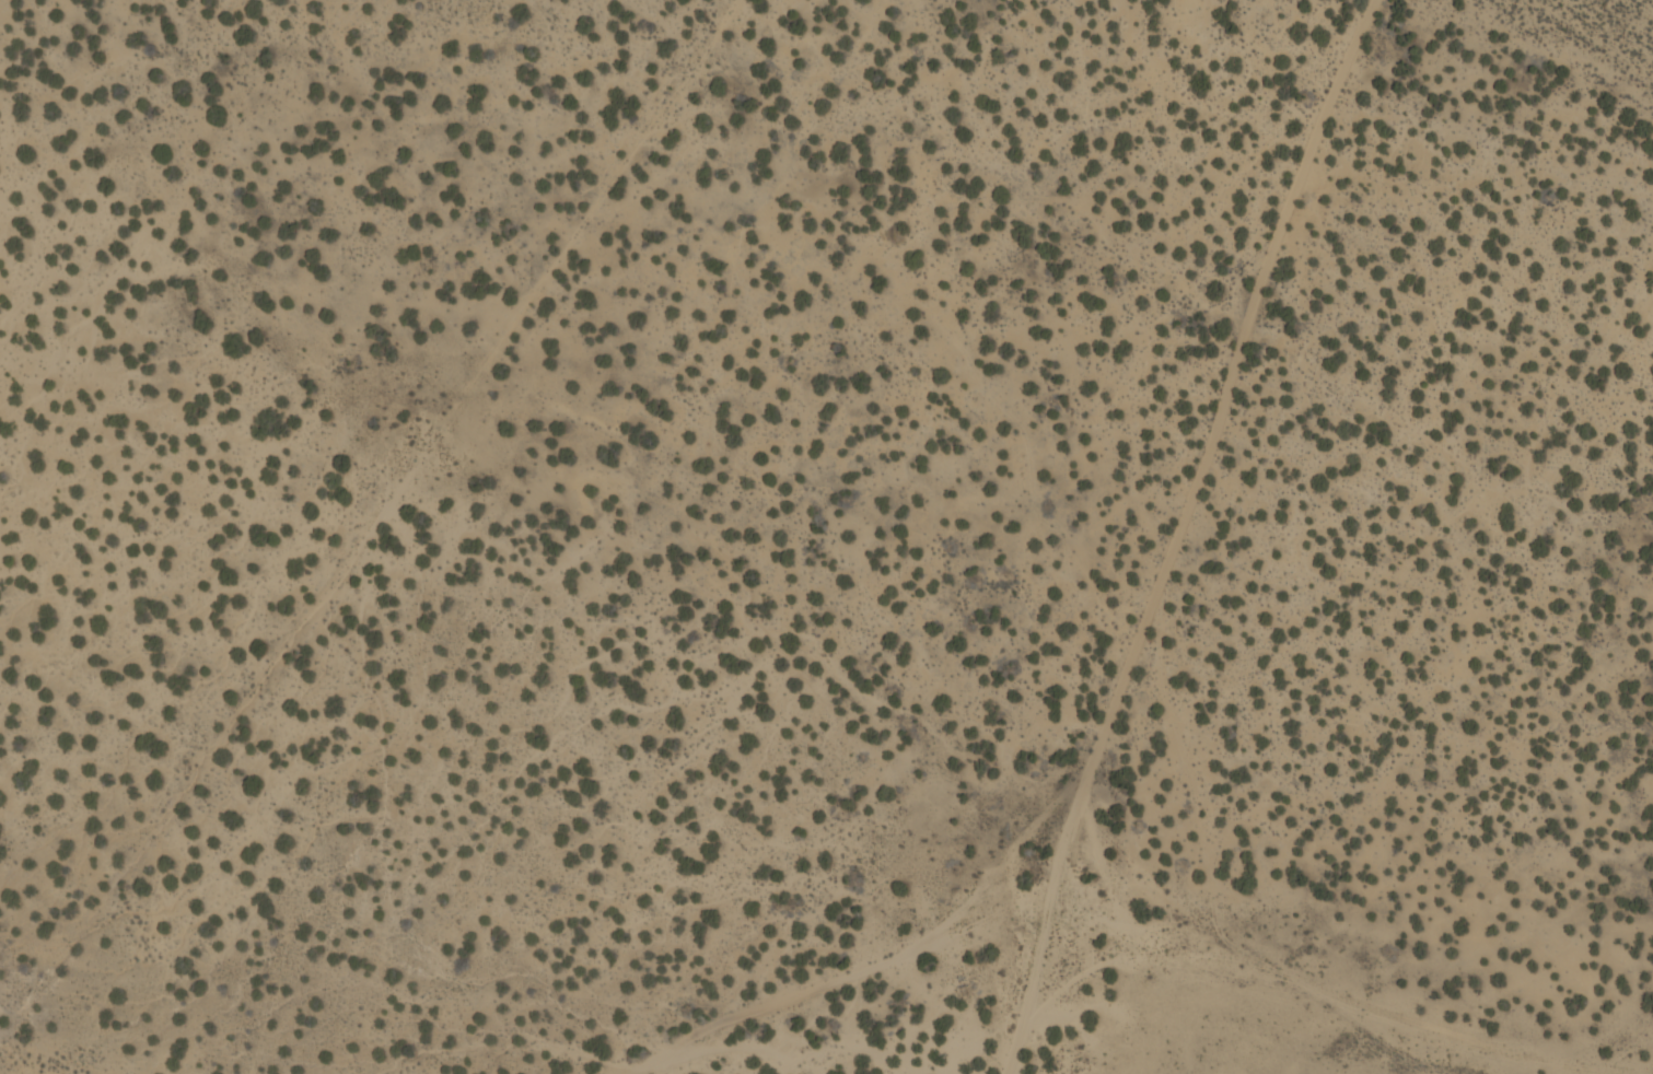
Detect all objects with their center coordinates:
road: (1178, 532)

